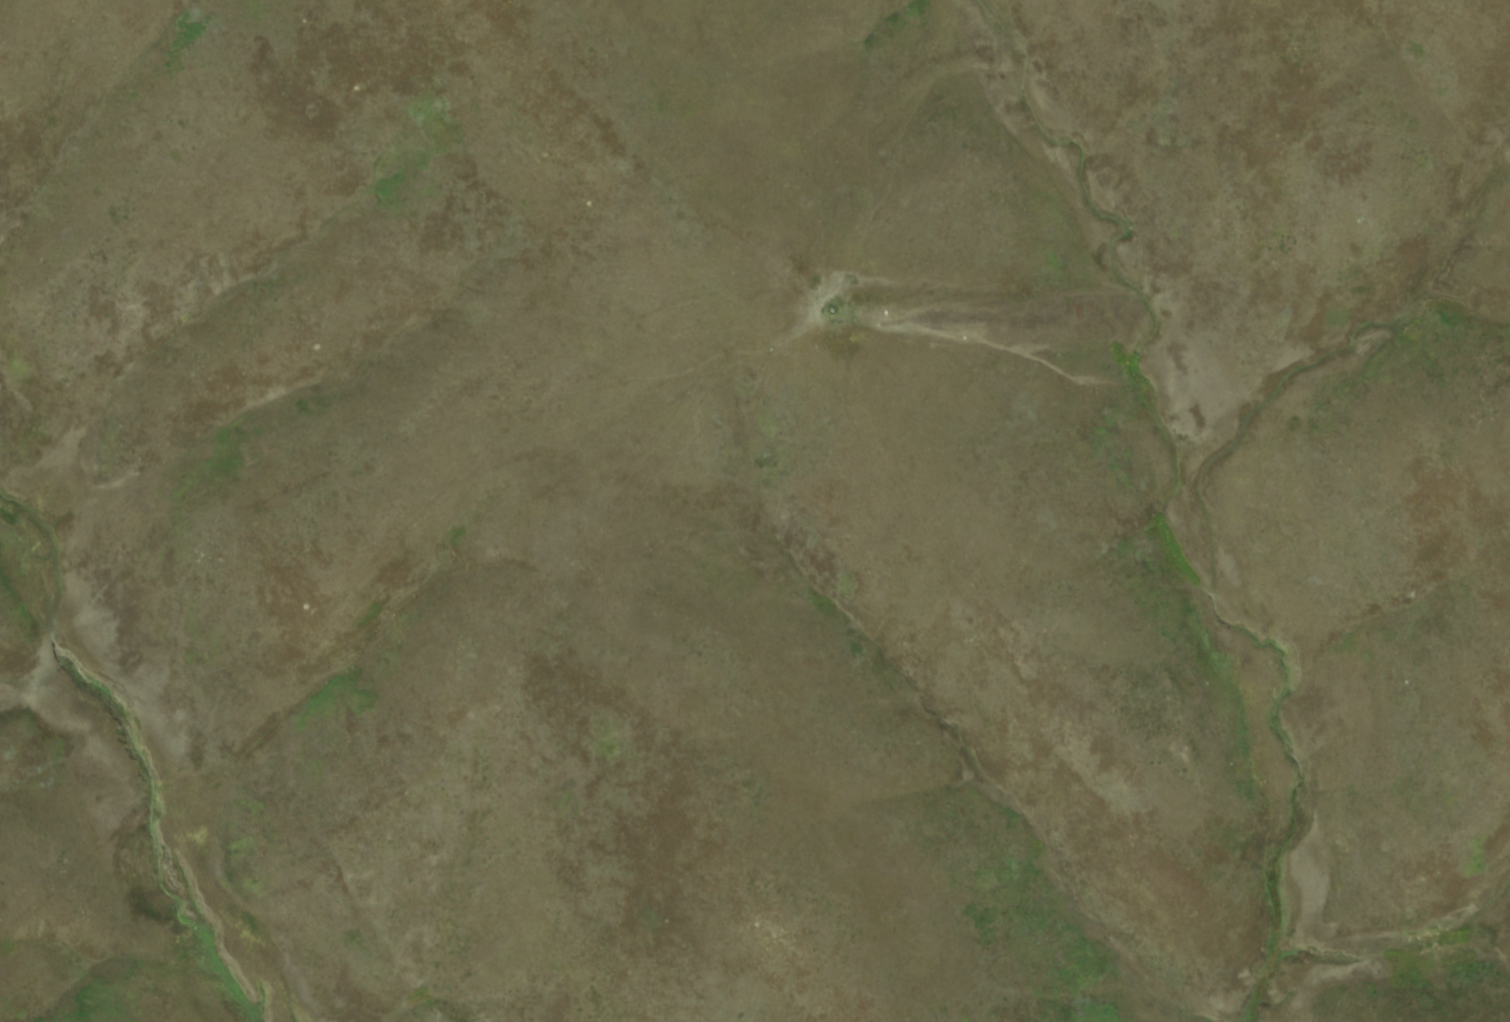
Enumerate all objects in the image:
road: (564, 367)

